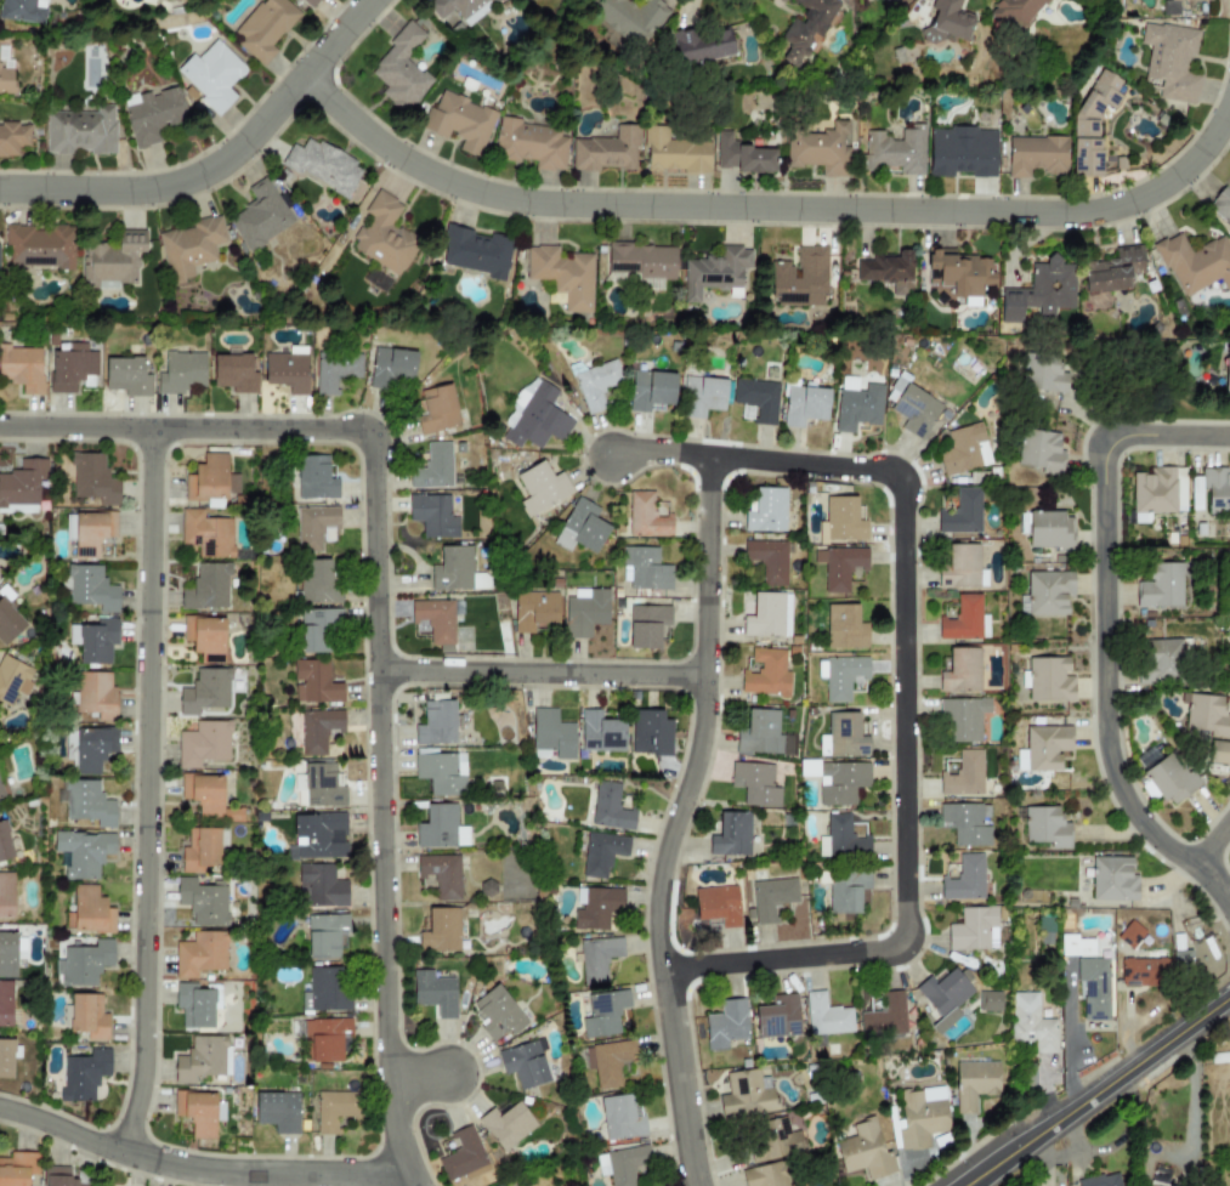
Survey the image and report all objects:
building: (523, 0)
building: (1188, 0)
building: (310, 2)
building: (22, 11)
building: (1015, 12)
building: (628, 15)
building: (945, 22)
building: (263, 28)
building: (804, 32)
building: (699, 45)
building: (1169, 61)
building: (5, 68)
building: (399, 69)
building: (211, 74)
building: (152, 114)
building: (459, 121)
building: (1090, 124)
building: (80, 131)
building: (12, 138)
building: (529, 144)
building: (820, 149)
building: (895, 151)
building: (606, 152)
building: (960, 152)
building: (673, 153)
building: (1035, 155)
building: (742, 157)
road: (219, 164)
building: (322, 165)
building: (1222, 205)
road: (767, 208)
building: (259, 216)
building: (382, 234)
building: (39, 246)
building: (191, 246)
building: (475, 252)
building: (641, 261)
building: (1195, 263)
building: (1112, 269)
building: (888, 271)
building: (960, 271)
building: (715, 272)
building: (562, 277)
building: (800, 279)
building: (376, 282)
building: (1039, 293)
building: (22, 368)
building: (72, 368)
building: (390, 368)
building: (285, 371)
building: (334, 371)
building: (234, 373)
building: (1042, 375)
building: (126, 376)
building: (1226, 376)
building: (595, 385)
building: (650, 390)
building: (702, 396)
building: (755, 401)
building: (804, 405)
building: (857, 405)
building: (914, 408)
building: (437, 410)
building: (535, 416)
road: (186, 430)
building: (964, 450)
building: (1039, 452)
road: (661, 453)
building: (432, 467)
building: (314, 478)
building: (93, 479)
building: (211, 479)
building: (23, 483)
building: (540, 488)
building: (1157, 493)
building: (21, 509)
building: (432, 513)
building: (962, 513)
building: (646, 517)
building: (840, 521)
building: (314, 527)
building: (583, 527)
building: (1049, 530)
building: (91, 534)
building: (217, 535)
building: (767, 561)
building: (838, 567)
building: (959, 567)
building: (453, 569)
building: (644, 569)
building: (480, 581)
building: (319, 583)
building: (209, 586)
building: (1160, 586)
building: (90, 588)
building: (1048, 592)
building: (431, 609)
building: (534, 609)
building: (586, 612)
building: (767, 615)
building: (1229, 617)
building: (964, 620)
building: (8, 623)
building: (646, 625)
building: (316, 628)
building: (844, 628)
road: (1107, 628)
building: (205, 637)
building: (93, 640)
building: (1160, 662)
building: (960, 671)
building: (765, 673)
road: (543, 675)
building: (839, 676)
building: (10, 680)
building: (1049, 680)
building: (313, 682)
building: (204, 692)
building: (95, 694)
building: (1206, 715)
building: (960, 719)
building: (436, 723)
building: (318, 730)
building: (600, 733)
building: (650, 733)
building: (759, 733)
road: (905, 733)
building: (550, 736)
building: (843, 737)
building: (203, 744)
building: (1043, 748)
building: (92, 749)
building: (1218, 753)
building: (441, 772)
building: (963, 774)
building: (1169, 779)
building: (841, 782)
building: (322, 784)
building: (754, 784)
building: (2, 789)
road: (148, 791)
building: (205, 796)
building: (85, 802)
building: (610, 807)
road: (382, 811)
road: (678, 821)
building: (965, 823)
building: (1045, 827)
building: (440, 828)
building: (731, 835)
building: (317, 836)
building: (840, 836)
building: (4, 842)
road: (1214, 846)
building: (199, 850)
building: (83, 853)
building: (601, 853)
building: (441, 874)
building: (964, 879)
building: (1112, 879)
building: (321, 885)
building: (848, 891)
building: (6, 895)
building: (771, 898)
building: (203, 901)
building: (715, 903)
building: (595, 908)
building: (90, 910)
building: (973, 930)
building: (440, 931)
building: (324, 935)
building: (1130, 935)
building: (1076, 947)
building: (11, 952)
building: (199, 954)
building: (596, 958)
building: (1181, 960)
building: (83, 964)
building: (1141, 972)
building: (1094, 987)
building: (324, 991)
building: (433, 993)
building: (943, 997)
building: (988, 1001)
building: (6, 1004)
building: (497, 1014)
building: (603, 1014)
building: (87, 1016)
building: (826, 1016)
building: (884, 1016)
building: (777, 1017)
building: (1031, 1023)
building: (725, 1025)
building: (325, 1038)
building: (6, 1059)
building: (200, 1059)
building: (607, 1061)
building: (525, 1065)
building: (83, 1074)
road: (418, 1078)
building: (974, 1084)
road: (1100, 1091)
road: (1191, 1094)
building: (744, 1095)
building: (334, 1110)
building: (195, 1112)
building: (277, 1112)
building: (920, 1117)
building: (619, 1118)
building: (506, 1124)
building: (771, 1139)
building: (863, 1151)
building: (461, 1154)
building: (622, 1164)
building: (17, 1168)
road: (202, 1169)
building: (765, 1175)
building: (59, 1176)
building: (1100, 1180)
building: (503, 1185)
building: (1149, 1185)

